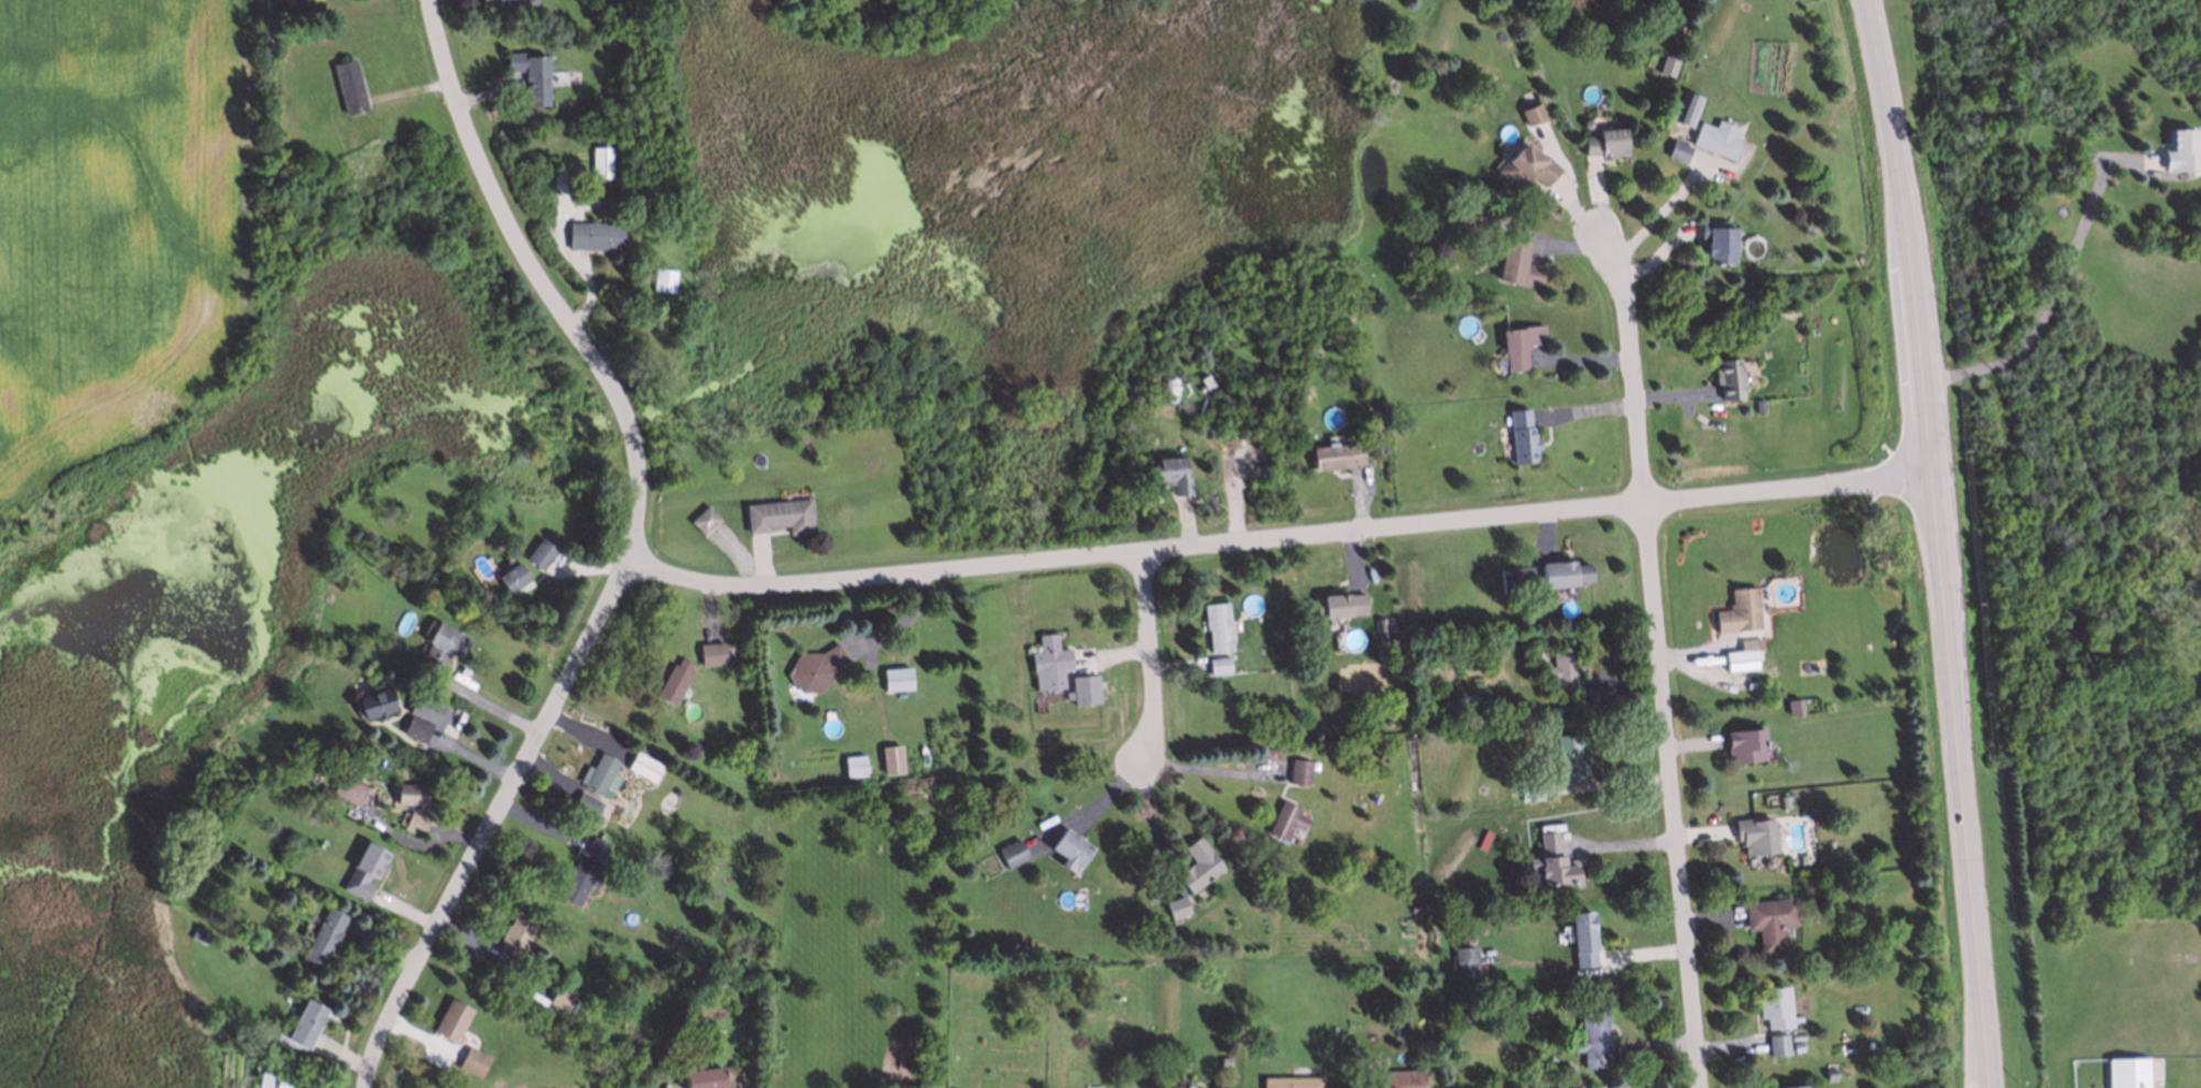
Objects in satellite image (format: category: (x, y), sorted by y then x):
building: (501, 1)
building: (1676, 29)
building: (1666, 64)
building: (530, 73)
building: (347, 85)
building: (1685, 107)
building: (599, 108)
building: (1532, 113)
building: (1584, 121)
building: (1714, 138)
building: (1603, 142)
building: (2180, 150)
building: (1676, 151)
building: (599, 161)
building: (1526, 165)
building: (623, 189)
building: (1467, 211)
road: (1657, 216)
building: (592, 233)
building: (1714, 240)
building: (1514, 263)
building: (662, 279)
road: (2053, 291)
building: (1516, 342)
building: (1726, 378)
building: (1757, 404)
building: (1521, 436)
building: (1334, 454)
building: (1167, 472)
building: (778, 514)
building: (702, 519)
road: (1283, 541)
road: (1939, 542)
building: (538, 552)
road: (636, 552)
building: (1561, 573)
building: (511, 576)
building: (1514, 578)
building: (1338, 605)
building: (1736, 610)
building: (1535, 613)
building: (1214, 624)
building: (1376, 624)
building: (1380, 637)
building: (439, 643)
building: (711, 651)
road: (1151, 657)
road: (1661, 657)
building: (1739, 659)
building: (1047, 661)
building: (1216, 663)
building: (813, 667)
building: (1561, 668)
building: (894, 677)
building: (673, 679)
building: (1769, 684)
building: (1083, 688)
building: (1595, 694)
building: (372, 701)
road: (486, 704)
building: (1576, 704)
building: (1791, 706)
building: (1551, 709)
building: (418, 717)
building: (1742, 743)
building: (1278, 752)
building: (1568, 757)
building: (890, 758)
building: (641, 764)
building: (852, 764)
road: (1209, 770)
building: (1297, 771)
building: (597, 773)
building: (346, 787)
building: (1528, 788)
building: (407, 792)
building: (1783, 801)
building: (584, 803)
building: (1284, 816)
building: (412, 820)
road: (1155, 823)
building: (1754, 835)
building: (596, 846)
building: (1068, 847)
building: (1011, 851)
building: (710, 856)
building: (1196, 863)
building: (1552, 863)
building: (1766, 863)
building: (362, 869)
building: (576, 881)
building: (1175, 905)
building: (1410, 909)
building: (1767, 918)
building: (197, 933)
building: (322, 935)
building: (512, 938)
building: (1582, 938)
building: (1819, 958)
building: (1464, 959)
building: (558, 997)
building: (1773, 1005)
building: (1468, 1013)
building: (450, 1019)
building: (305, 1022)
building: (1591, 1034)
building: (1777, 1044)
building: (1795, 1047)
building: (1349, 1052)
building: (471, 1059)
building: (1223, 1062)
building: (1565, 1069)
building: (1829, 1073)
building: (2128, 1074)
building: (701, 1077)
building: (286, 1079)
building: (1290, 1079)
building: (1390, 1079)
building: (1789, 1086)
building: (1219, 1087)

